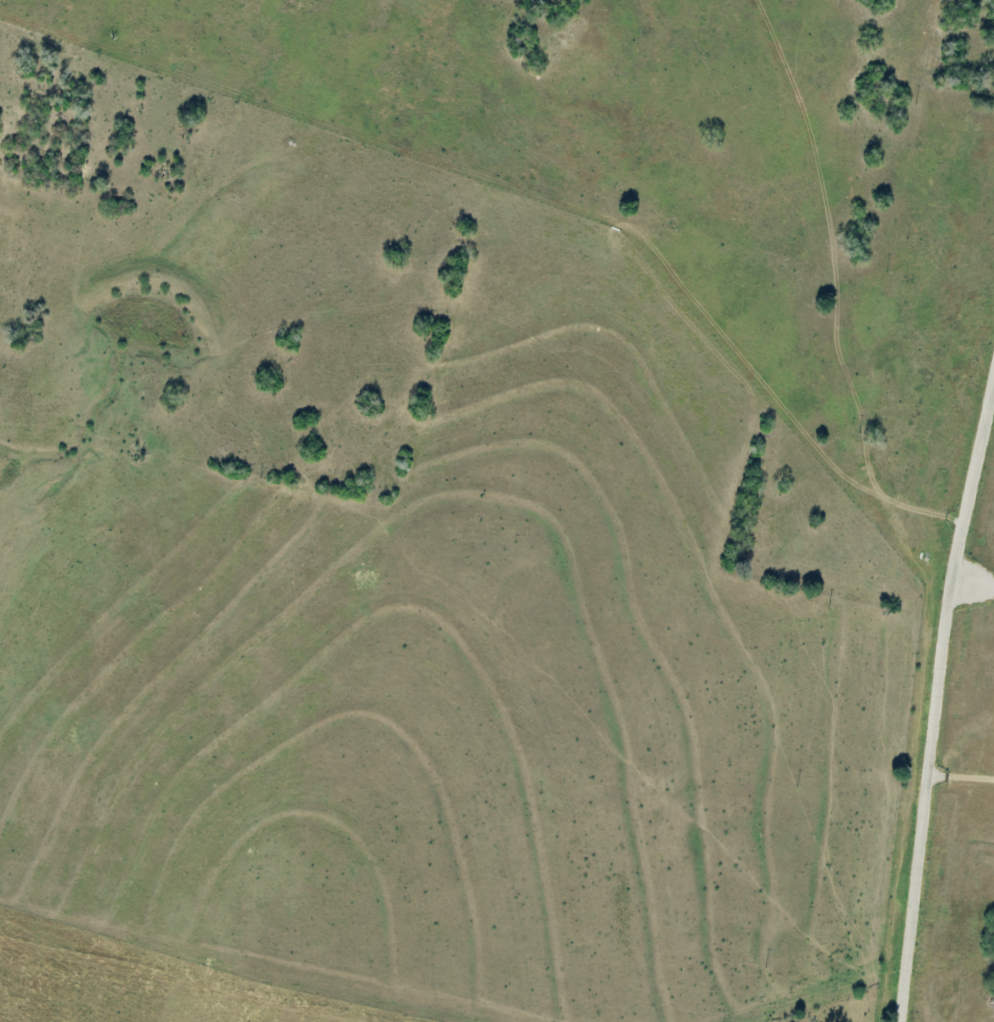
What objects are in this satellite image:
road: (986, 480)
road: (939, 712)

